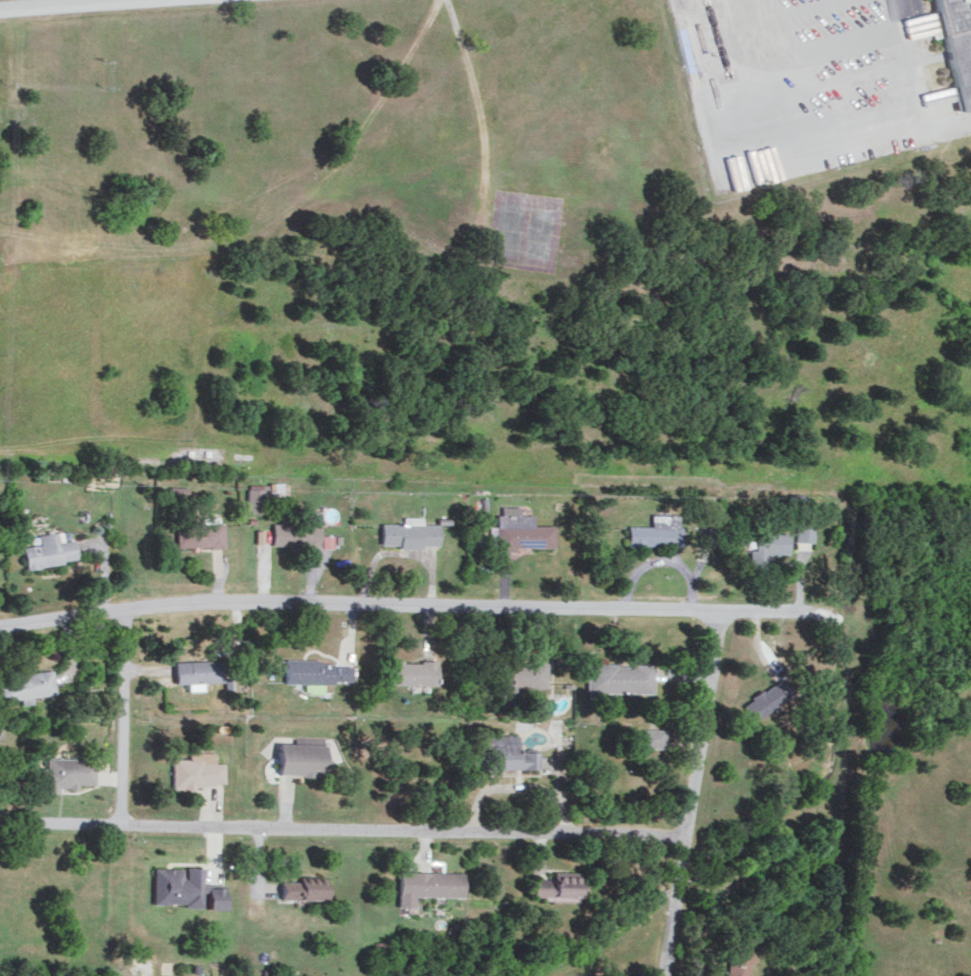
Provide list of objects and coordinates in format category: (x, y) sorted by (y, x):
road: (58, 2)
building: (951, 48)
road: (915, 88)
park: (523, 231)
building: (179, 490)
building: (257, 498)
building: (518, 530)
building: (804, 530)
building: (297, 531)
building: (655, 531)
building: (408, 532)
building: (199, 534)
building: (706, 535)
building: (327, 540)
building: (767, 546)
building: (48, 549)
road: (411, 604)
building: (315, 671)
building: (410, 671)
building: (197, 672)
building: (618, 677)
building: (518, 679)
building: (25, 685)
building: (767, 698)
road: (122, 716)
building: (652, 737)
building: (505, 754)
building: (302, 759)
building: (197, 769)
building: (67, 772)
road: (693, 792)
road: (343, 829)
building: (427, 884)
building: (555, 885)
building: (184, 887)
building: (303, 888)
building: (739, 961)

